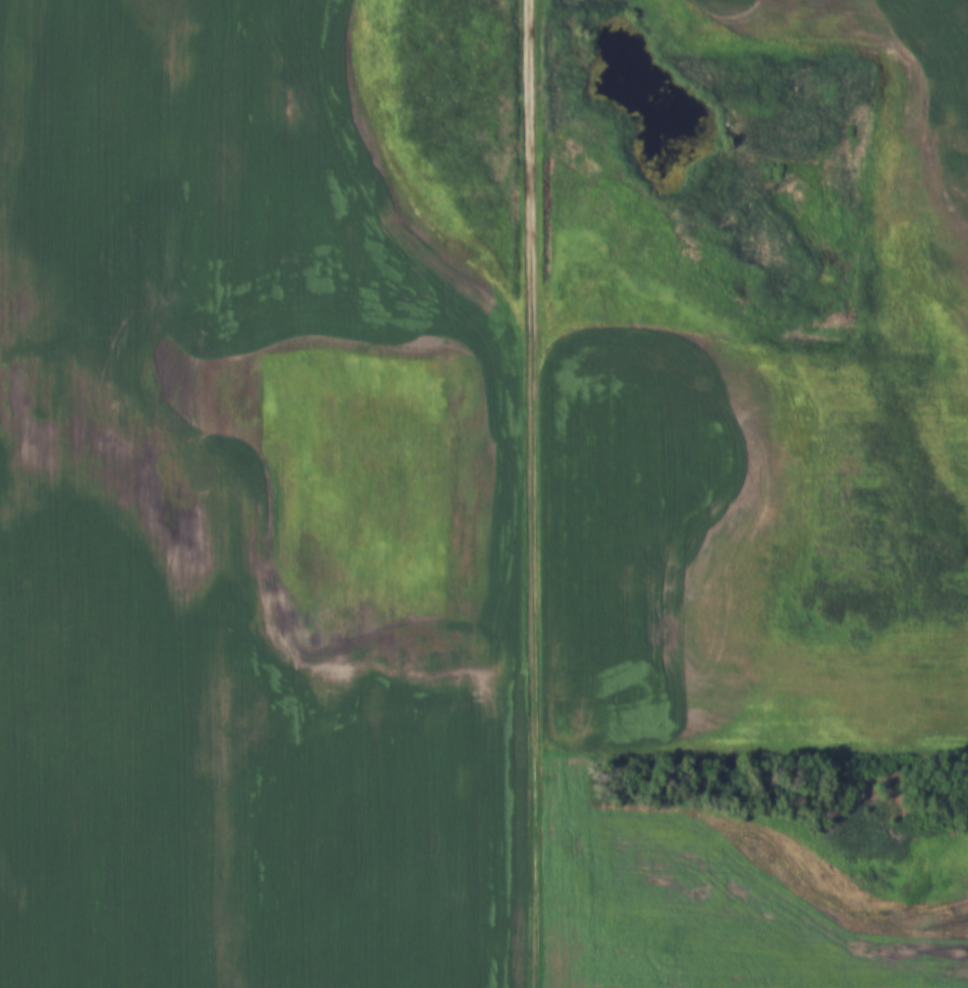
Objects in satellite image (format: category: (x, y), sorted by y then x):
road: (529, 494)

